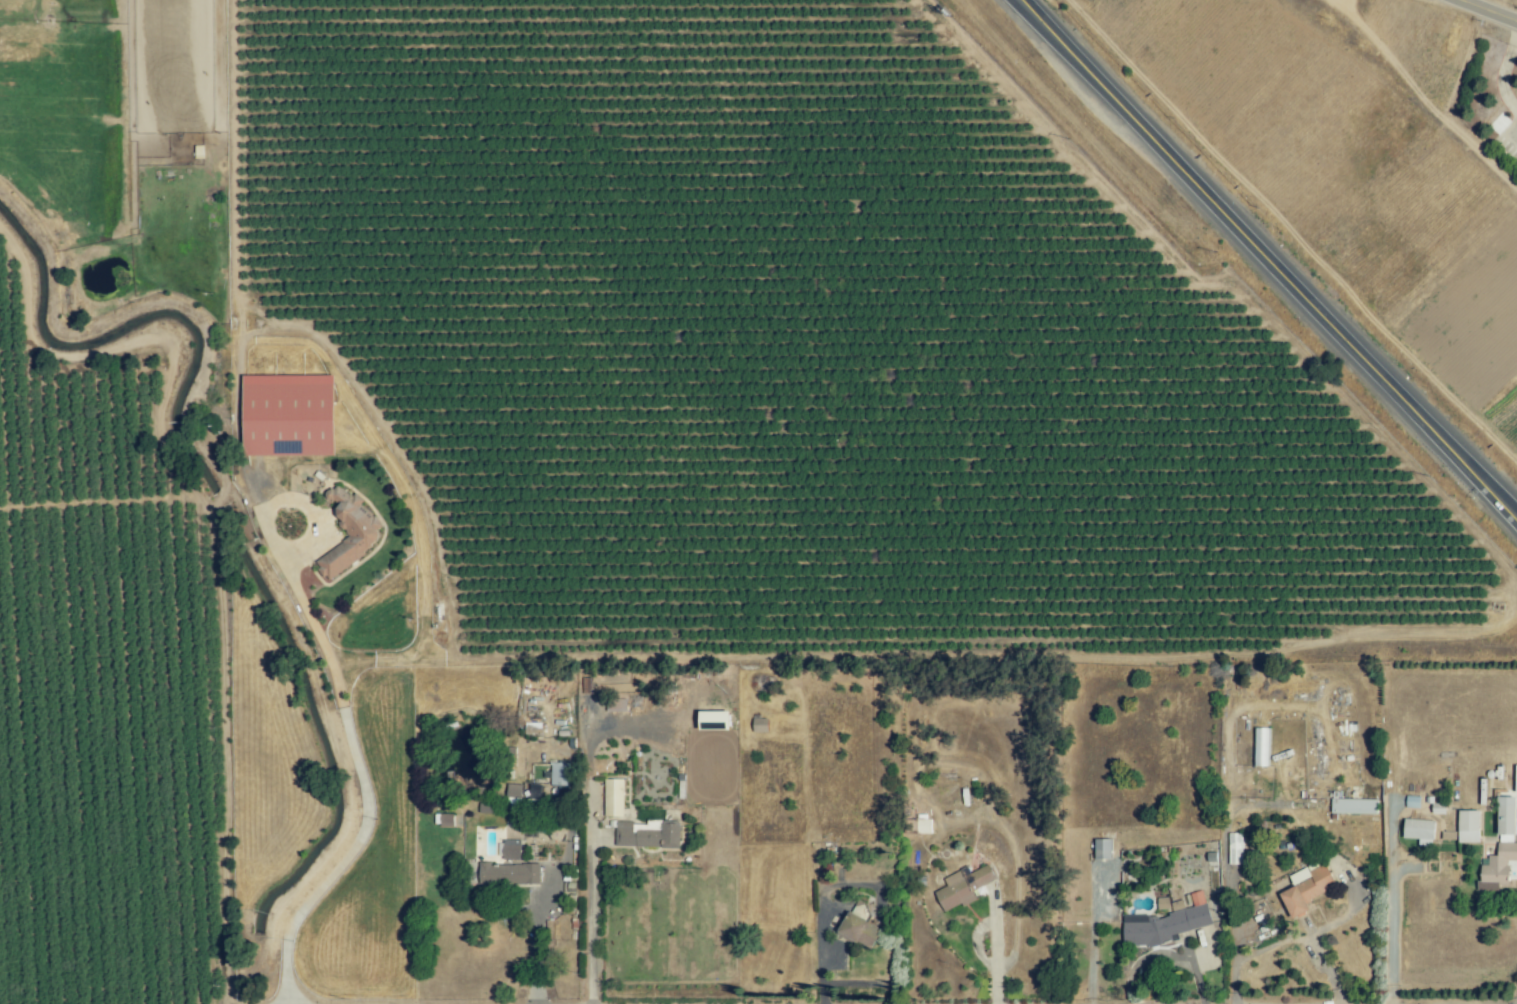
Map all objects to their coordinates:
road: (1493, 9)
railway: (1311, 216)
road: (1219, 217)
road: (235, 268)
crop: (889, 334)
building: (289, 415)
road: (1470, 482)
building: (350, 534)
crop: (93, 595)
building: (615, 705)
building: (714, 720)
building: (760, 725)
building: (1260, 747)
road: (359, 770)
building: (560, 775)
building: (1515, 779)
building: (536, 791)
building: (513, 797)
building: (613, 797)
building: (1412, 801)
building: (1353, 806)
building: (1506, 819)
building: (446, 820)
building: (923, 825)
building: (1468, 826)
building: (1419, 830)
building: (648, 835)
building: (1234, 848)
building: (1103, 849)
building: (511, 850)
building: (1497, 867)
building: (508, 874)
building: (962, 887)
building: (1307, 890)
road: (592, 902)
road: (1392, 904)
road: (1347, 914)
building: (1165, 924)
building: (859, 931)
road: (1093, 937)
road: (1286, 939)
road: (992, 949)
road: (535, 950)

